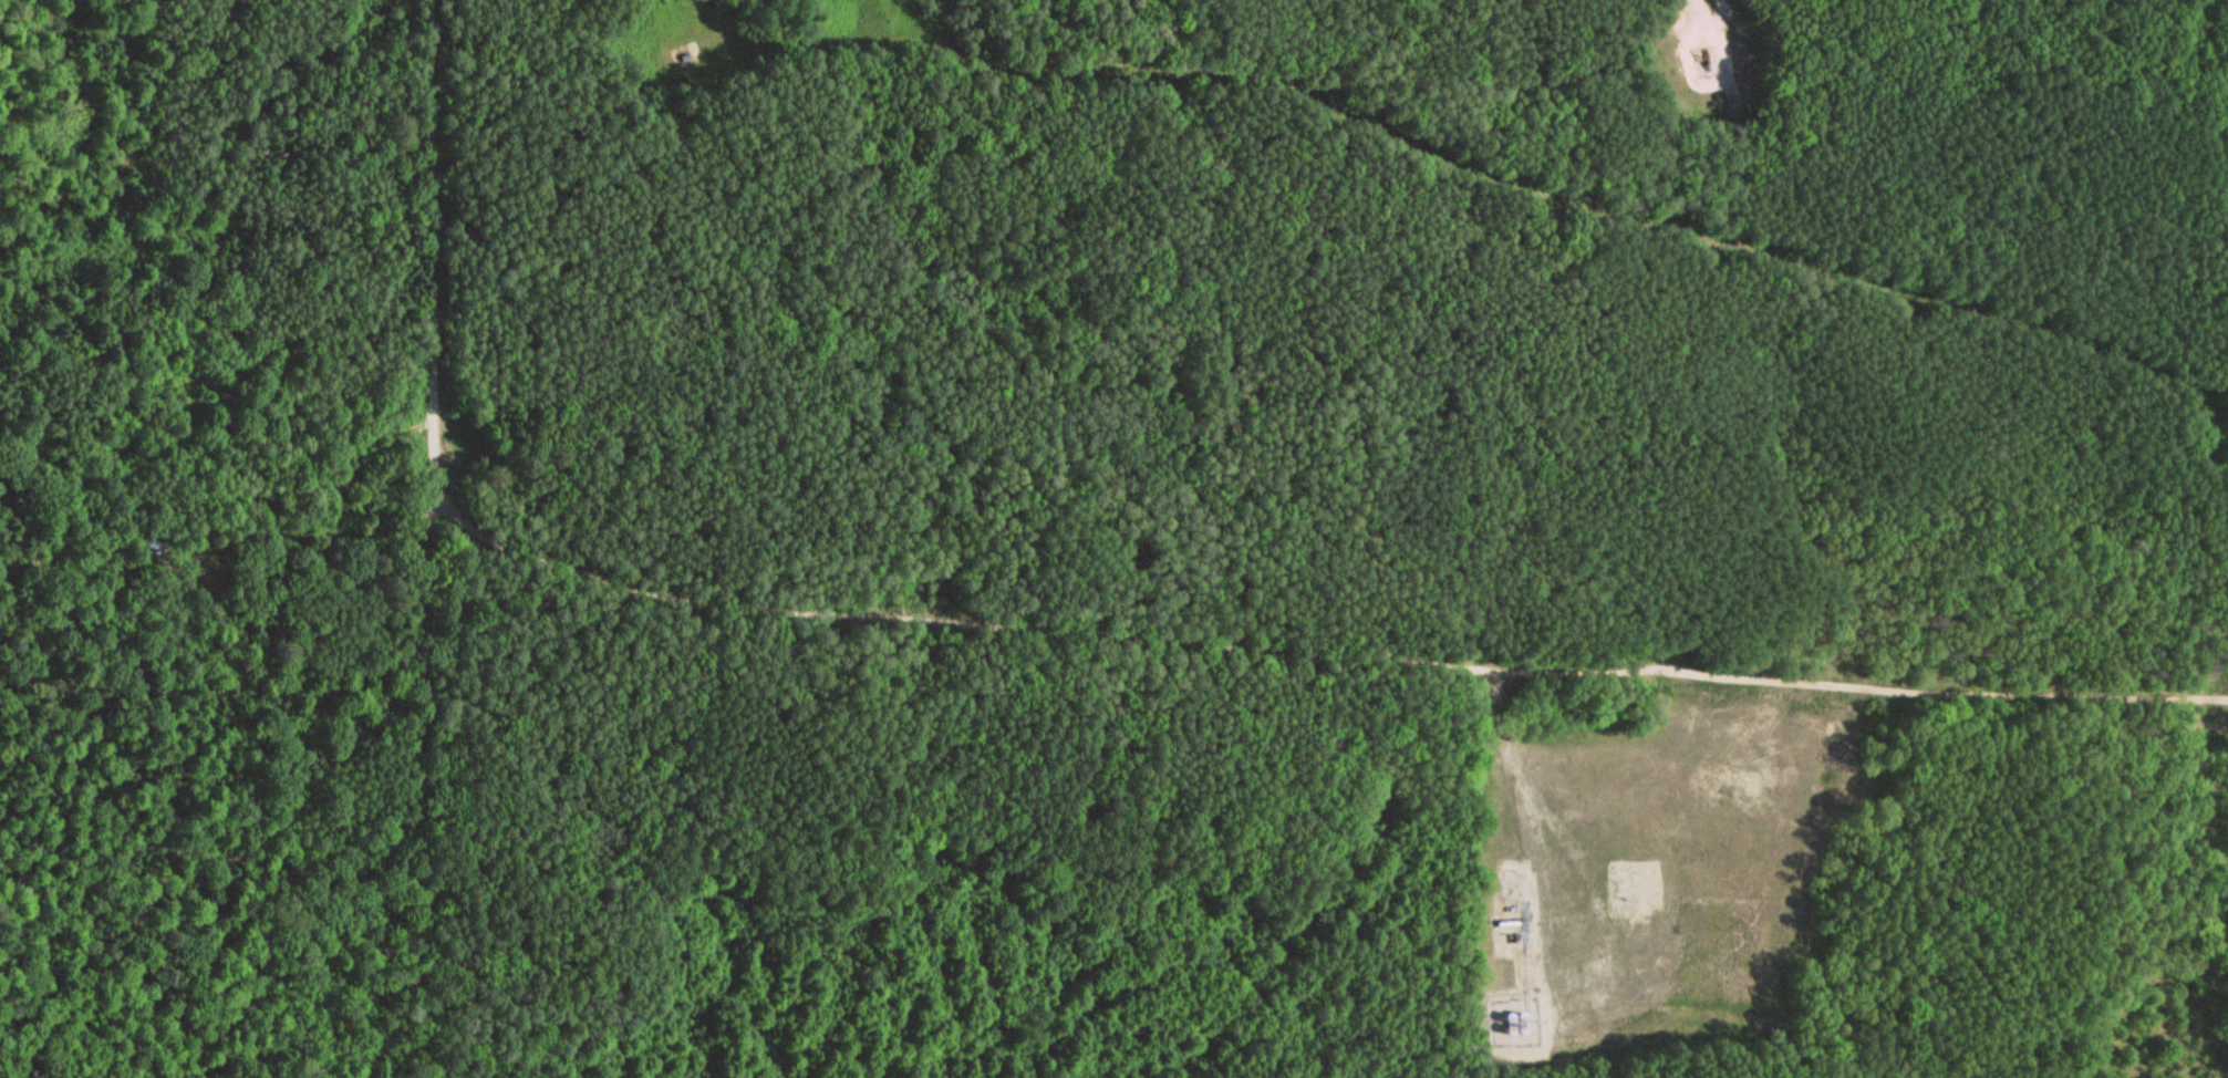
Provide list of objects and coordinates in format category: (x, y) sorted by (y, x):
petroleum well: (1698, 69)
road: (1488, 177)
road: (428, 539)
road: (1318, 662)

